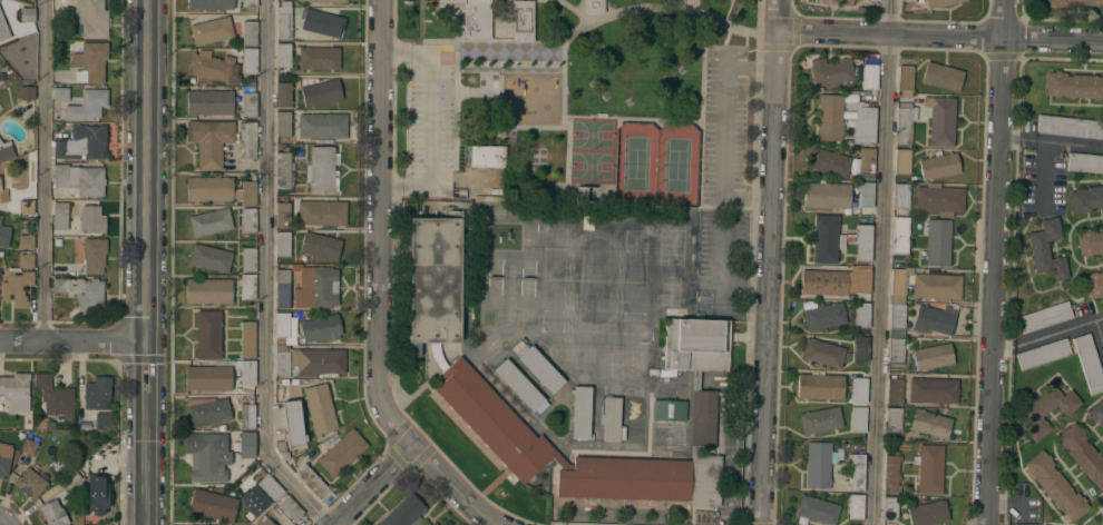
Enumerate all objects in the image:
building: (322, 0)
building: (875, 0)
building: (908, 0)
building: (845, 1)
building: (939, 2)
building: (1074, 2)
building: (250, 3)
building: (211, 4)
building: (593, 7)
building: (27, 14)
building: (475, 18)
building: (91, 19)
building: (523, 21)
building: (284, 22)
building: (321, 22)
building: (3, 28)
building: (211, 30)
building: (250, 33)
road: (939, 36)
building: (283, 56)
building: (319, 58)
building: (250, 60)
building: (90, 61)
building: (215, 68)
building: (830, 71)
building: (943, 76)
building: (869, 77)
building: (905, 77)
building: (1, 81)
building: (1073, 85)
building: (27, 92)
building: (321, 92)
building: (61, 93)
building: (283, 93)
park: (589, 93)
building: (209, 102)
building: (87, 105)
building: (248, 105)
building: (829, 117)
road: (433, 118)
building: (940, 120)
building: (905, 122)
building: (283, 123)
building: (863, 123)
building: (322, 126)
building: (1070, 126)
road: (722, 129)
park: (593, 135)
building: (209, 140)
building: (248, 140)
road: (1052, 140)
building: (82, 142)
building: (6, 150)
building: (487, 156)
building: (866, 159)
building: (902, 161)
building: (829, 162)
building: (1084, 162)
park: (635, 164)
park: (676, 165)
building: (940, 166)
park: (592, 167)
road: (43, 169)
road: (144, 169)
building: (322, 169)
building: (283, 170)
road: (1043, 175)
building: (80, 179)
building: (209, 189)
building: (248, 194)
building: (865, 194)
building: (2, 195)
building: (827, 195)
building: (901, 196)
building: (939, 198)
building: (1086, 198)
building: (26, 206)
building: (865, 211)
building: (322, 212)
building: (282, 215)
building: (60, 216)
building: (0, 218)
building: (92, 219)
building: (248, 220)
building: (211, 221)
road: (381, 225)
building: (900, 235)
building: (4, 236)
building: (827, 238)
building: (26, 241)
building: (1090, 241)
building: (863, 242)
building: (938, 242)
building: (282, 244)
building: (320, 245)
building: (1047, 250)
building: (94, 254)
building: (211, 258)
building: (248, 260)
road: (768, 261)
road: (880, 262)
road: (997, 262)
road: (266, 274)
building: (862, 279)
building: (19, 281)
building: (823, 281)
building: (1094, 285)
building: (316, 286)
building: (898, 286)
building: (937, 286)
building: (248, 287)
building: (282, 288)
building: (82, 290)
building: (208, 290)
building: (824, 315)
building: (861, 315)
building: (1045, 316)
building: (934, 319)
building: (897, 320)
building: (321, 327)
road: (1100, 328)
road: (1047, 333)
building: (208, 334)
road: (71, 339)
building: (247, 339)
building: (696, 344)
building: (518, 347)
building: (860, 348)
building: (896, 349)
building: (822, 353)
building: (1043, 354)
building: (933, 356)
building: (282, 359)
building: (316, 360)
building: (1089, 363)
building: (458, 364)
road: (143, 365)
building: (541, 369)
building: (247, 373)
building: (208, 377)
building: (519, 385)
building: (821, 386)
building: (859, 389)
building: (933, 389)
building: (16, 390)
building: (894, 390)
building: (98, 393)
building: (53, 396)
building: (320, 408)
building: (668, 409)
building: (1047, 409)
building: (209, 412)
building: (582, 412)
building: (1097, 413)
building: (247, 415)
building: (703, 417)
building: (612, 418)
building: (103, 419)
building: (631, 419)
building: (821, 419)
building: (858, 419)
building: (894, 419)
building: (293, 423)
building: (931, 424)
building: (50, 437)
building: (247, 444)
building: (29, 447)
building: (342, 452)
building: (207, 454)
building: (1083, 454)
building: (4, 458)
road: (143, 458)
building: (89, 463)
building: (59, 465)
building: (818, 465)
building: (929, 467)
building: (857, 472)
building: (890, 473)
building: (71, 477)
building: (311, 481)
building: (30, 483)
road: (370, 484)
building: (1056, 485)
building: (271, 486)
road: (452, 486)
building: (97, 496)
building: (253, 501)
building: (213, 504)
building: (856, 506)
road: (1007, 506)
building: (290, 507)
building: (889, 508)
building: (817, 509)
building: (403, 511)
building: (53, 513)
building: (928, 513)
road: (2, 519)
building: (265, 522)
road: (7, 523)
building: (97, 524)
building: (433, 524)
building: (436, 524)

